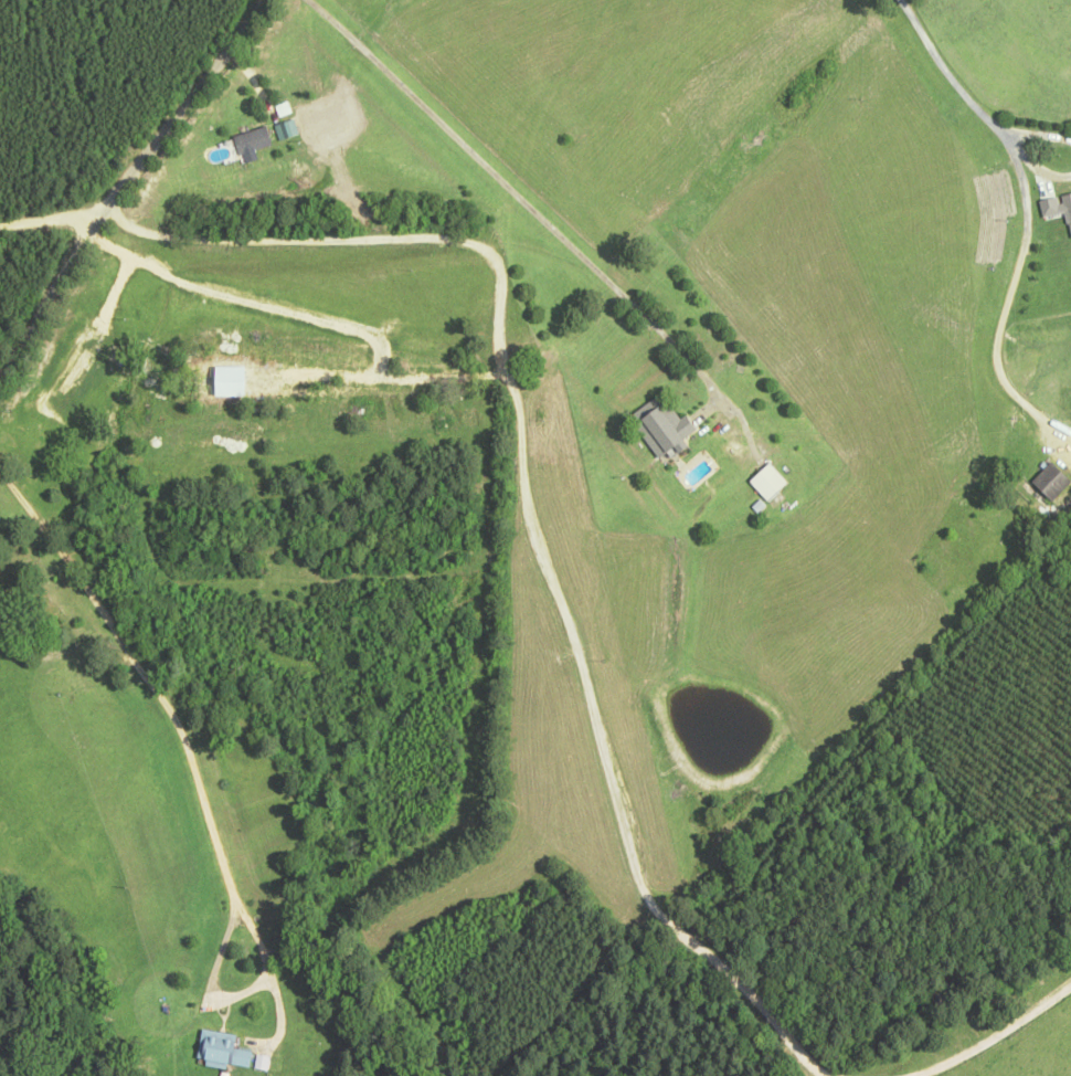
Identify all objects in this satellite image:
building: (251, 140)
road: (118, 184)
building: (1057, 209)
road: (1027, 210)
building: (667, 431)
building: (1053, 485)
building: (772, 486)
building: (52, 615)
building: (225, 1053)

